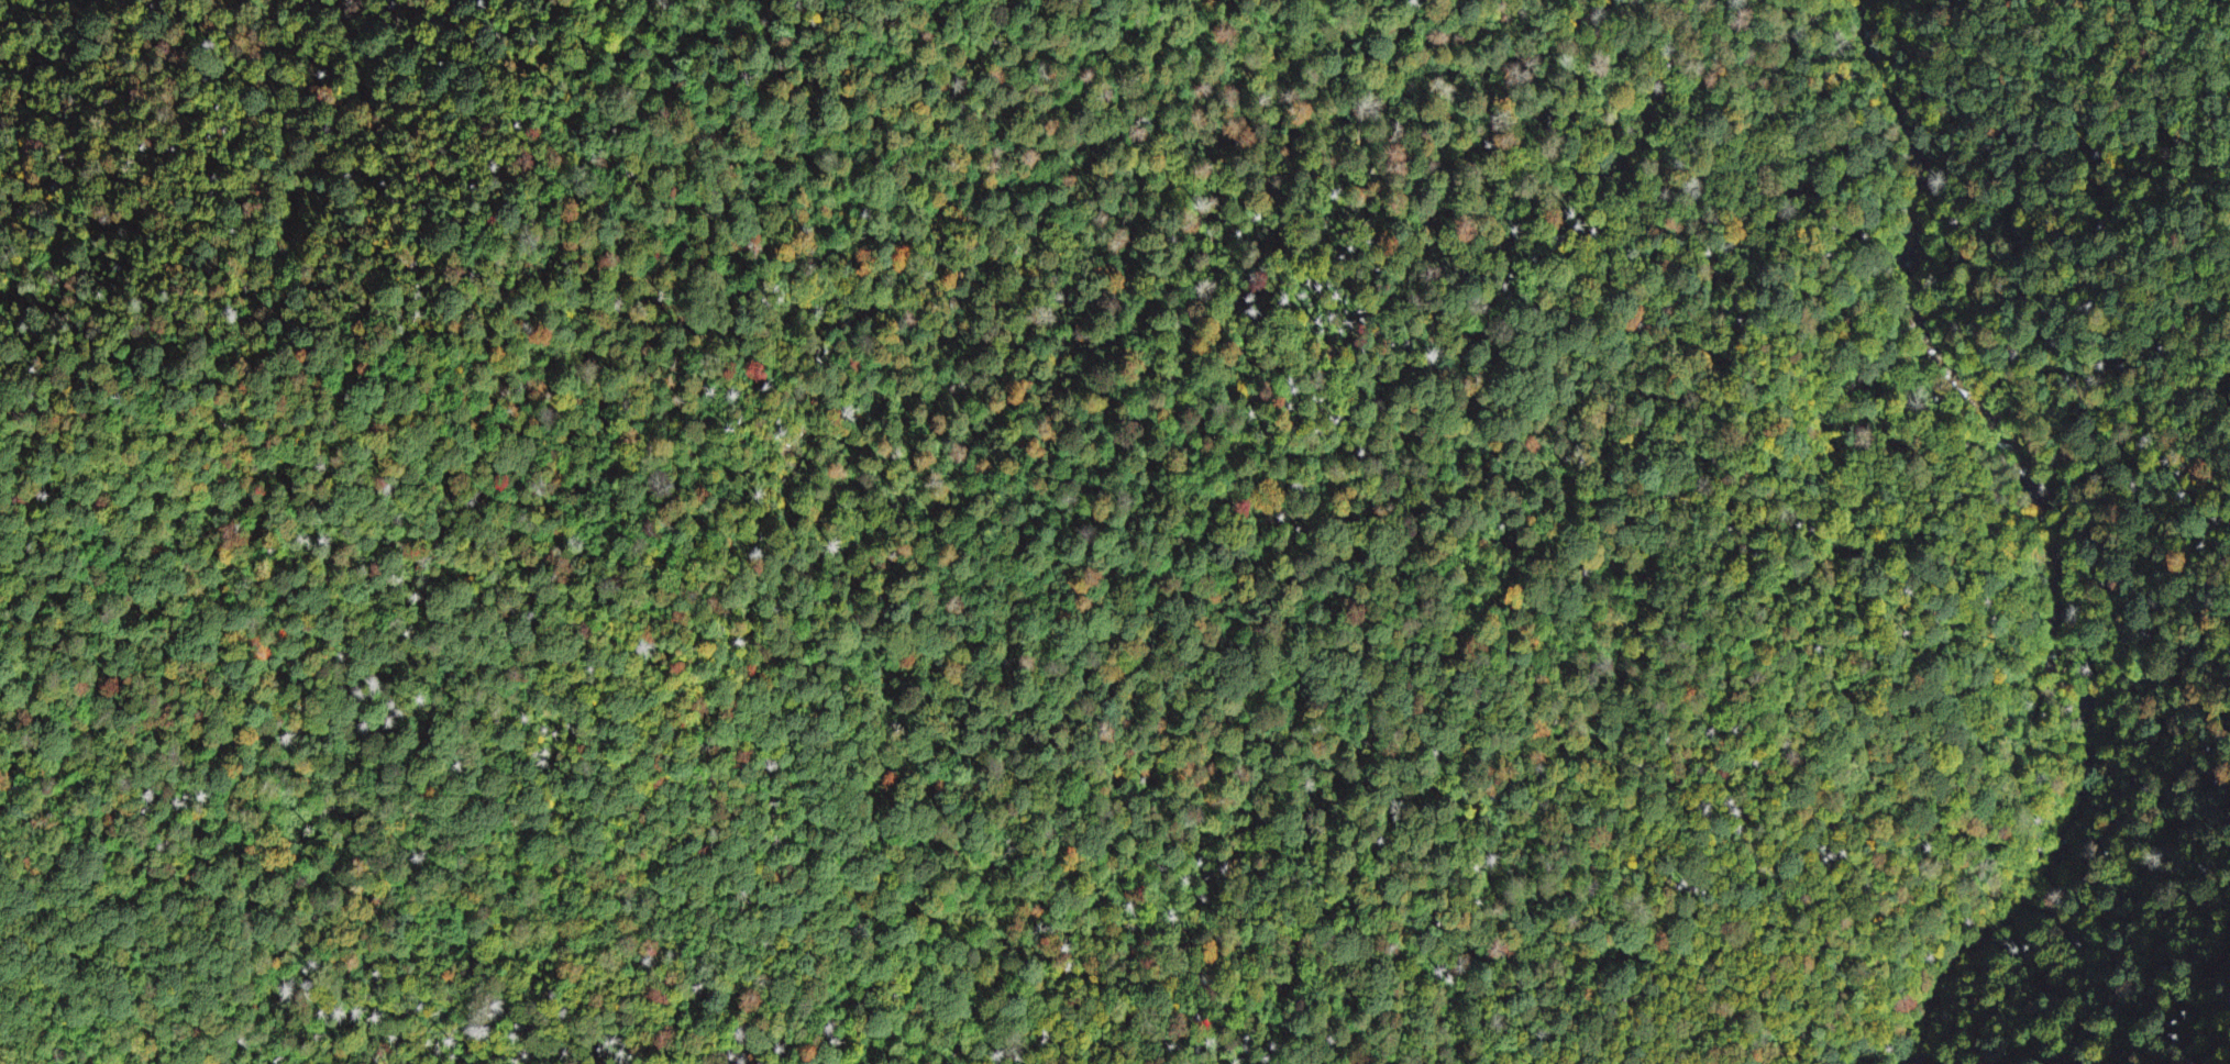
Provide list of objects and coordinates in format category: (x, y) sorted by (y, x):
road: (2069, 535)
river: (2034, 541)

